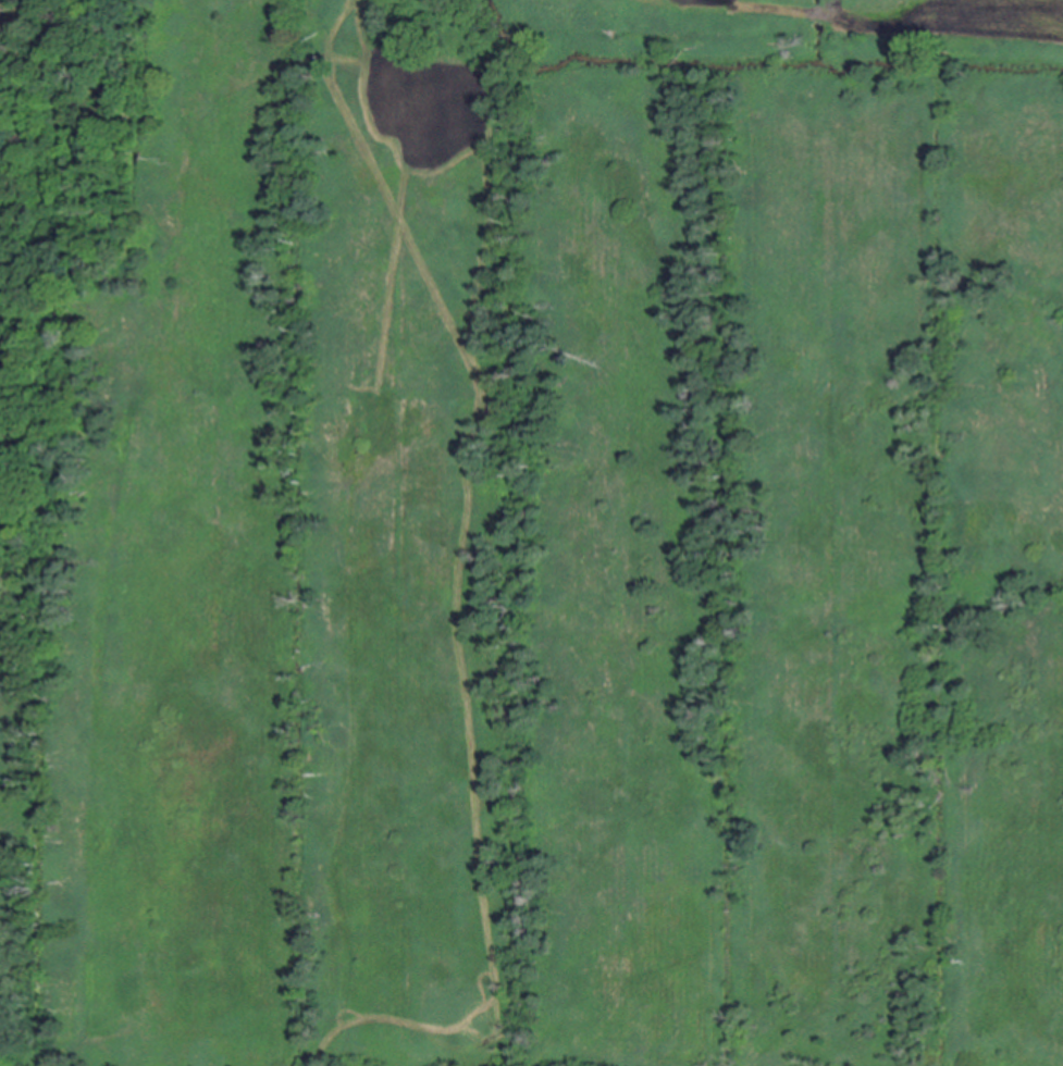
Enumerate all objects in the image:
river: (750, 55)

